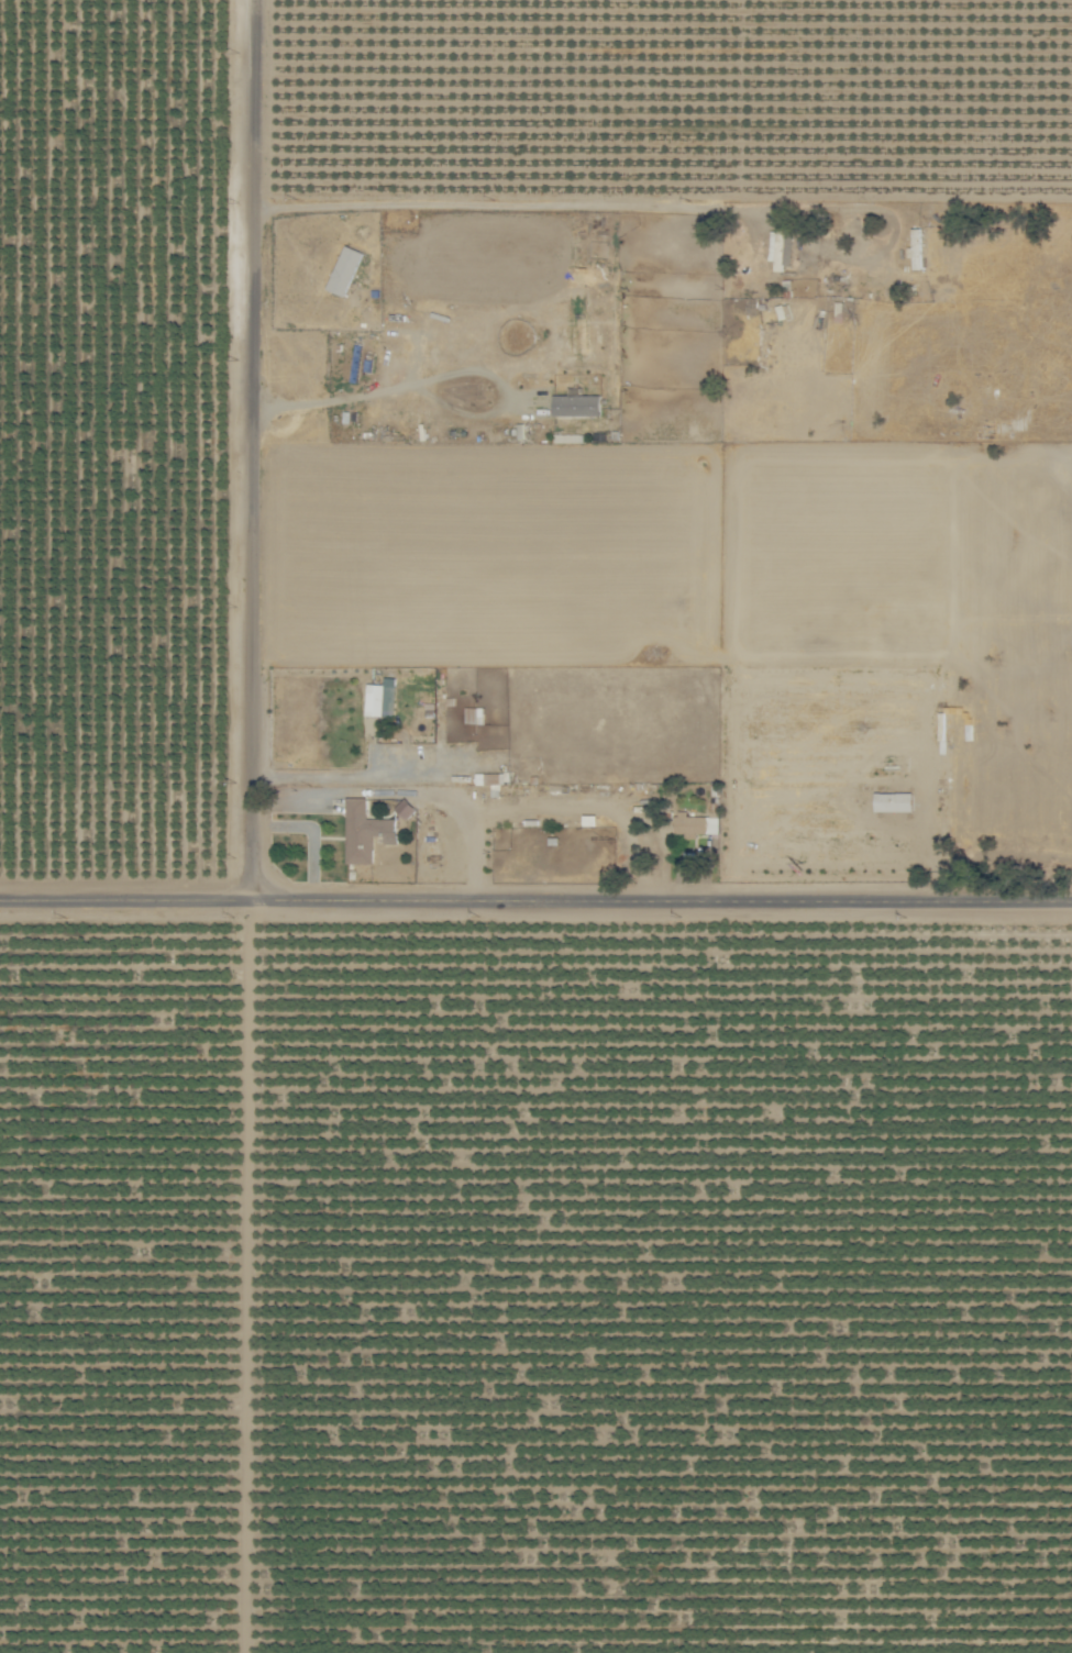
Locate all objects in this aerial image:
building: (918, 247)
building: (784, 248)
building: (346, 270)
road: (257, 454)
building: (383, 699)
road: (325, 779)
building: (897, 800)
building: (695, 824)
crop: (535, 826)
building: (366, 831)
road: (535, 907)

